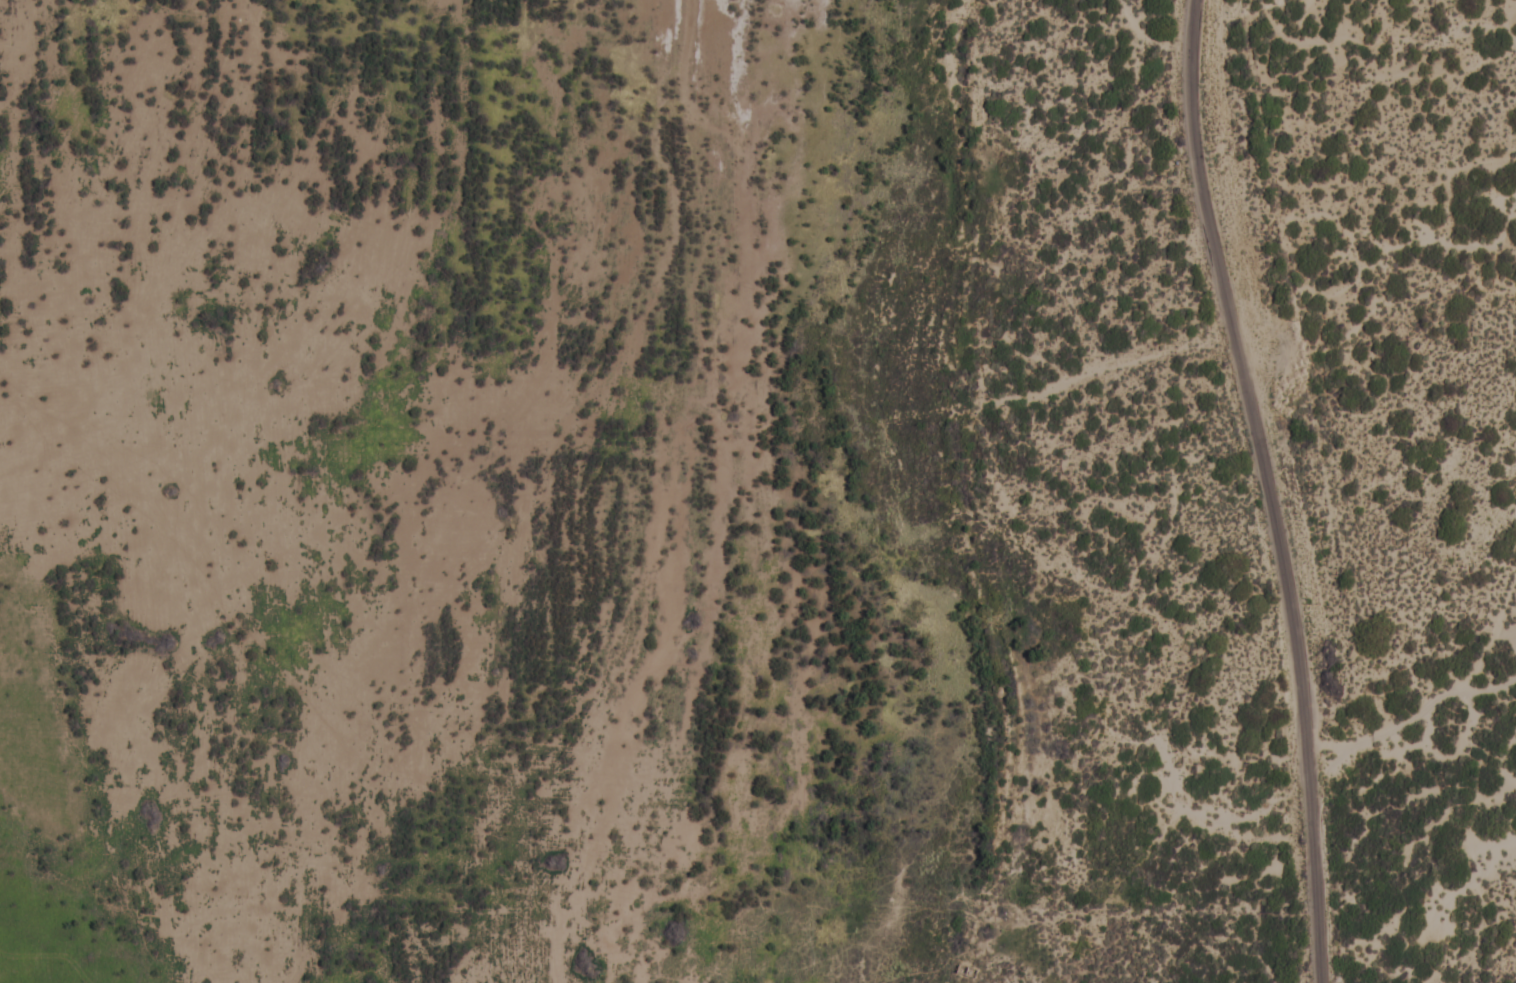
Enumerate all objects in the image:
road: (1241, 498)
road: (1422, 681)
road: (325, 932)

